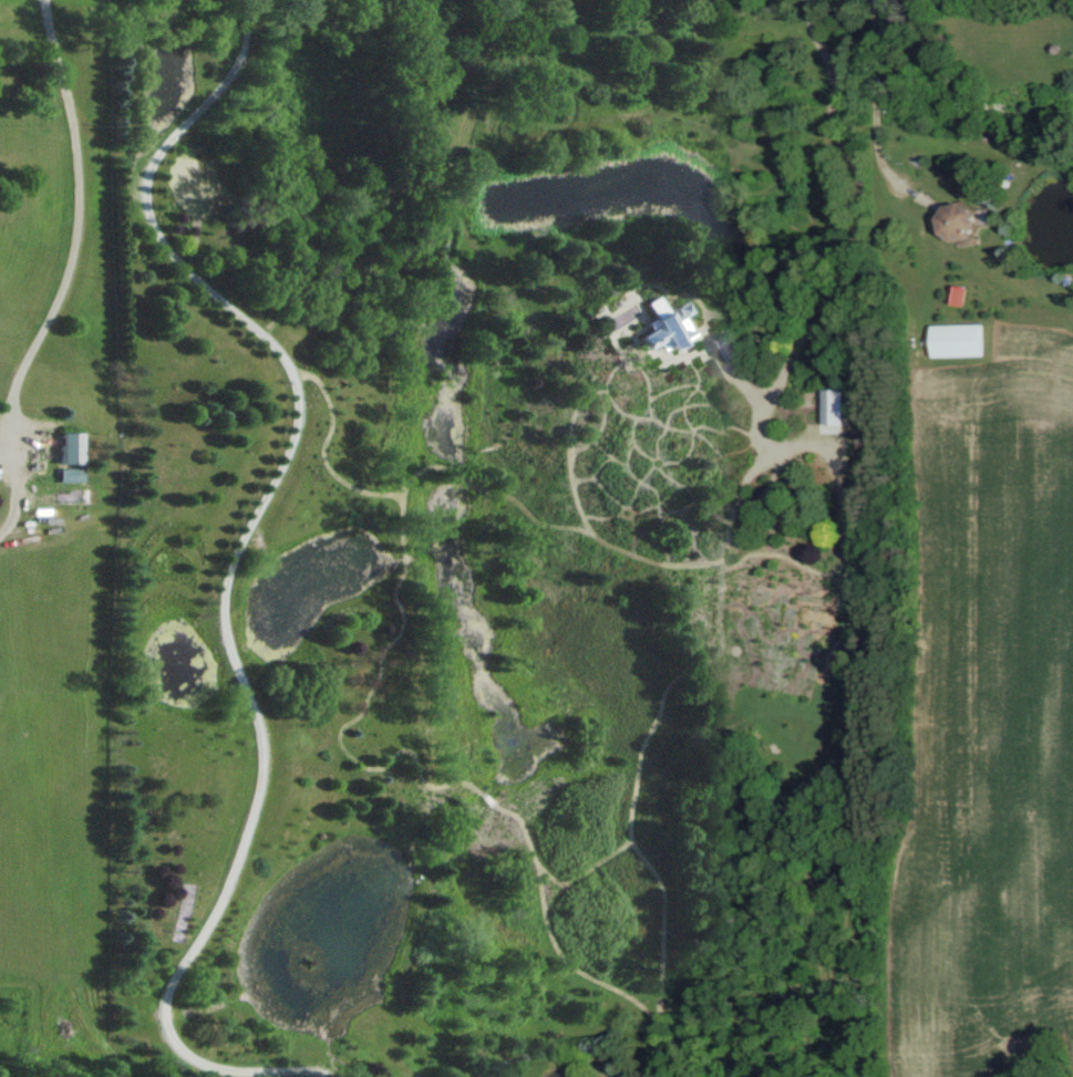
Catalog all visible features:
road: (869, 106)
road: (70, 201)
building: (957, 221)
road: (866, 266)
building: (643, 328)
building: (959, 340)
building: (706, 345)
road: (743, 374)
building: (50, 446)
road: (223, 571)

